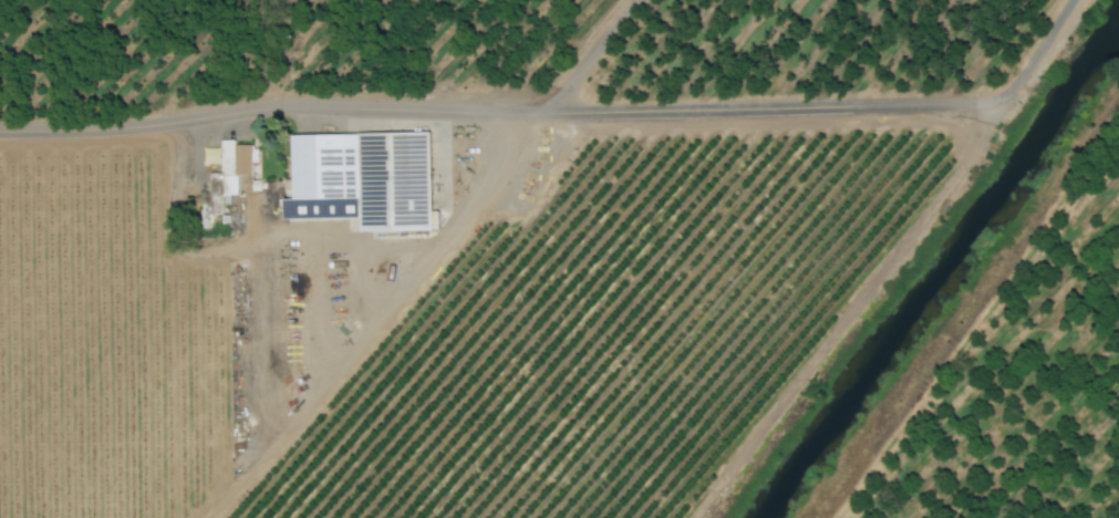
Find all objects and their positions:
road: (1029, 61)
road: (487, 114)
building: (231, 169)
building: (370, 182)

